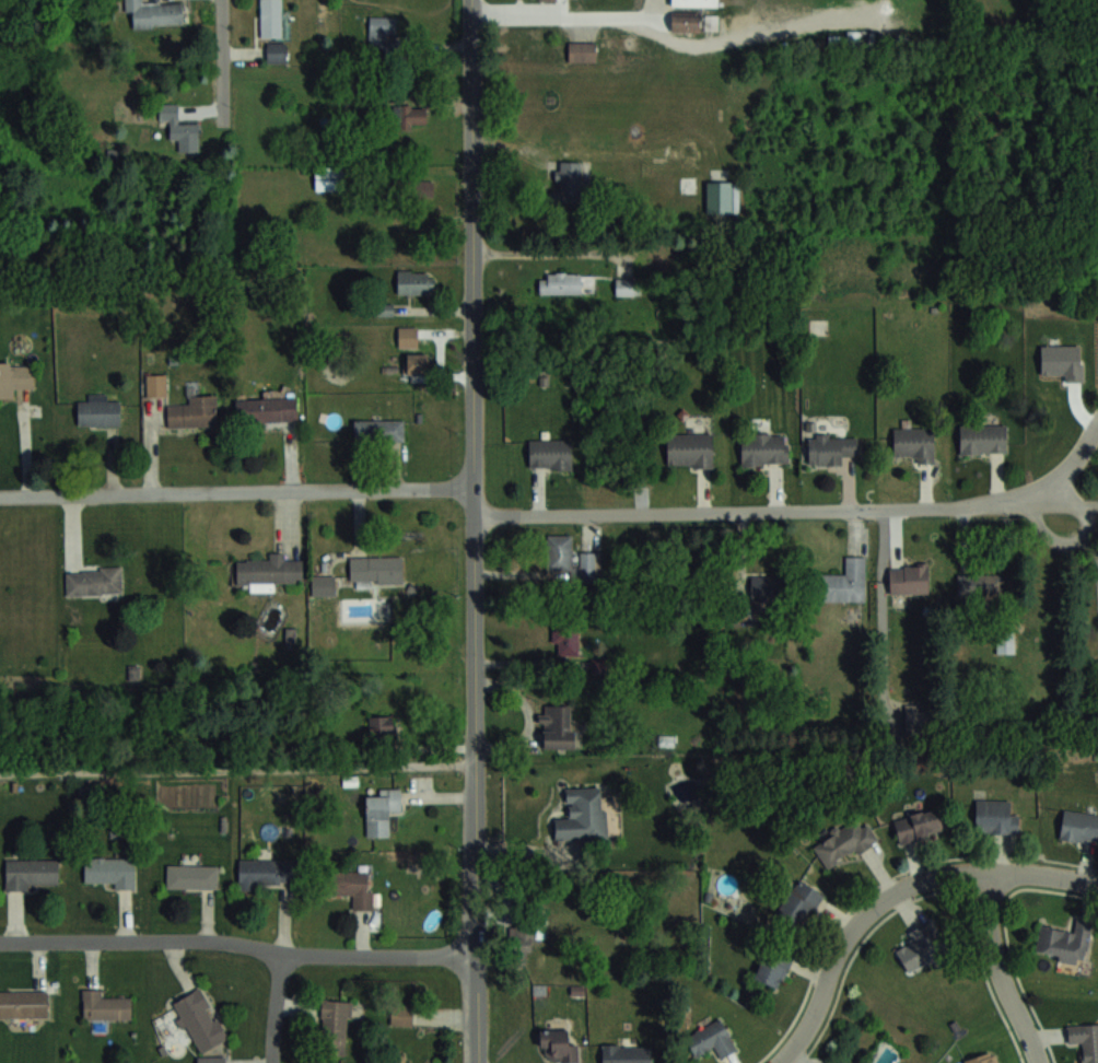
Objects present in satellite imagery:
building: (694, 2)
building: (155, 13)
road: (610, 16)
building: (270, 17)
building: (685, 21)
building: (382, 32)
building: (581, 50)
building: (276, 51)
road: (223, 113)
building: (410, 115)
building: (179, 128)
building: (687, 151)
building: (329, 178)
building: (568, 180)
building: (687, 184)
building: (422, 187)
road: (549, 253)
building: (414, 281)
building: (563, 282)
building: (381, 309)
building: (407, 336)
building: (417, 363)
building: (15, 377)
building: (155, 385)
building: (100, 409)
building: (266, 409)
building: (194, 412)
building: (378, 429)
building: (983, 439)
building: (913, 443)
building: (689, 448)
building: (763, 448)
building: (830, 448)
building: (550, 454)
road: (237, 490)
road: (1089, 506)
road: (801, 510)
road: (475, 530)
road: (1079, 538)
road: (1094, 541)
building: (569, 559)
building: (375, 569)
building: (269, 570)
building: (909, 577)
building: (844, 581)
building: (979, 583)
building: (324, 585)
building: (766, 587)
building: (565, 641)
building: (1005, 641)
building: (916, 716)
building: (381, 725)
building: (558, 726)
road: (238, 768)
building: (381, 810)
building: (582, 816)
building: (994, 817)
building: (1079, 825)
building: (919, 826)
building: (843, 842)
building: (110, 871)
building: (32, 873)
building: (260, 873)
building: (191, 876)
building: (354, 886)
road: (892, 892)
building: (798, 904)
road: (240, 939)
building: (1064, 942)
building: (519, 945)
building: (920, 948)
building: (772, 967)
road: (998, 971)
building: (23, 1003)
building: (105, 1005)
road: (277, 1006)
building: (401, 1015)
building: (199, 1020)
building: (335, 1027)
building: (711, 1039)
building: (1085, 1041)
building: (558, 1047)
building: (626, 1053)
building: (983, 1059)
building: (210, 1061)

